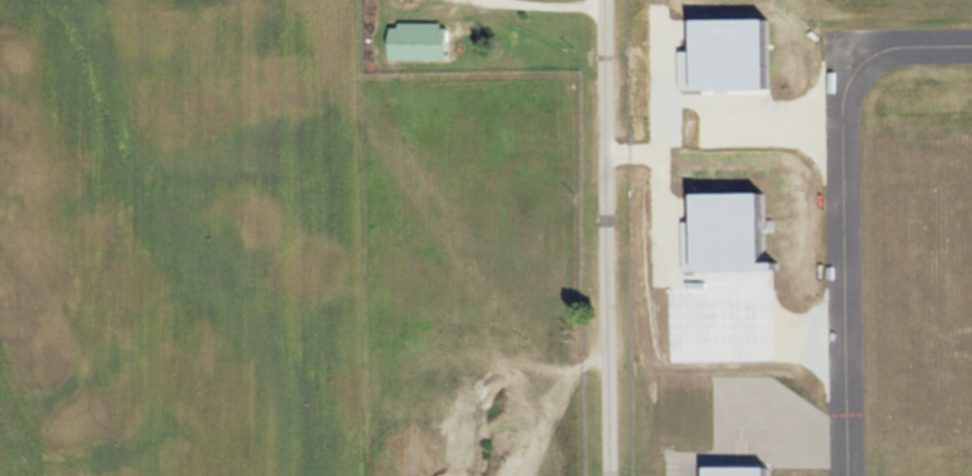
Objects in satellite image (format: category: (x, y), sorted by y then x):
building: (420, 41)
airport taxiway: (927, 45)
road: (612, 237)
airport: (486, 245)
airport taxiway: (844, 253)

